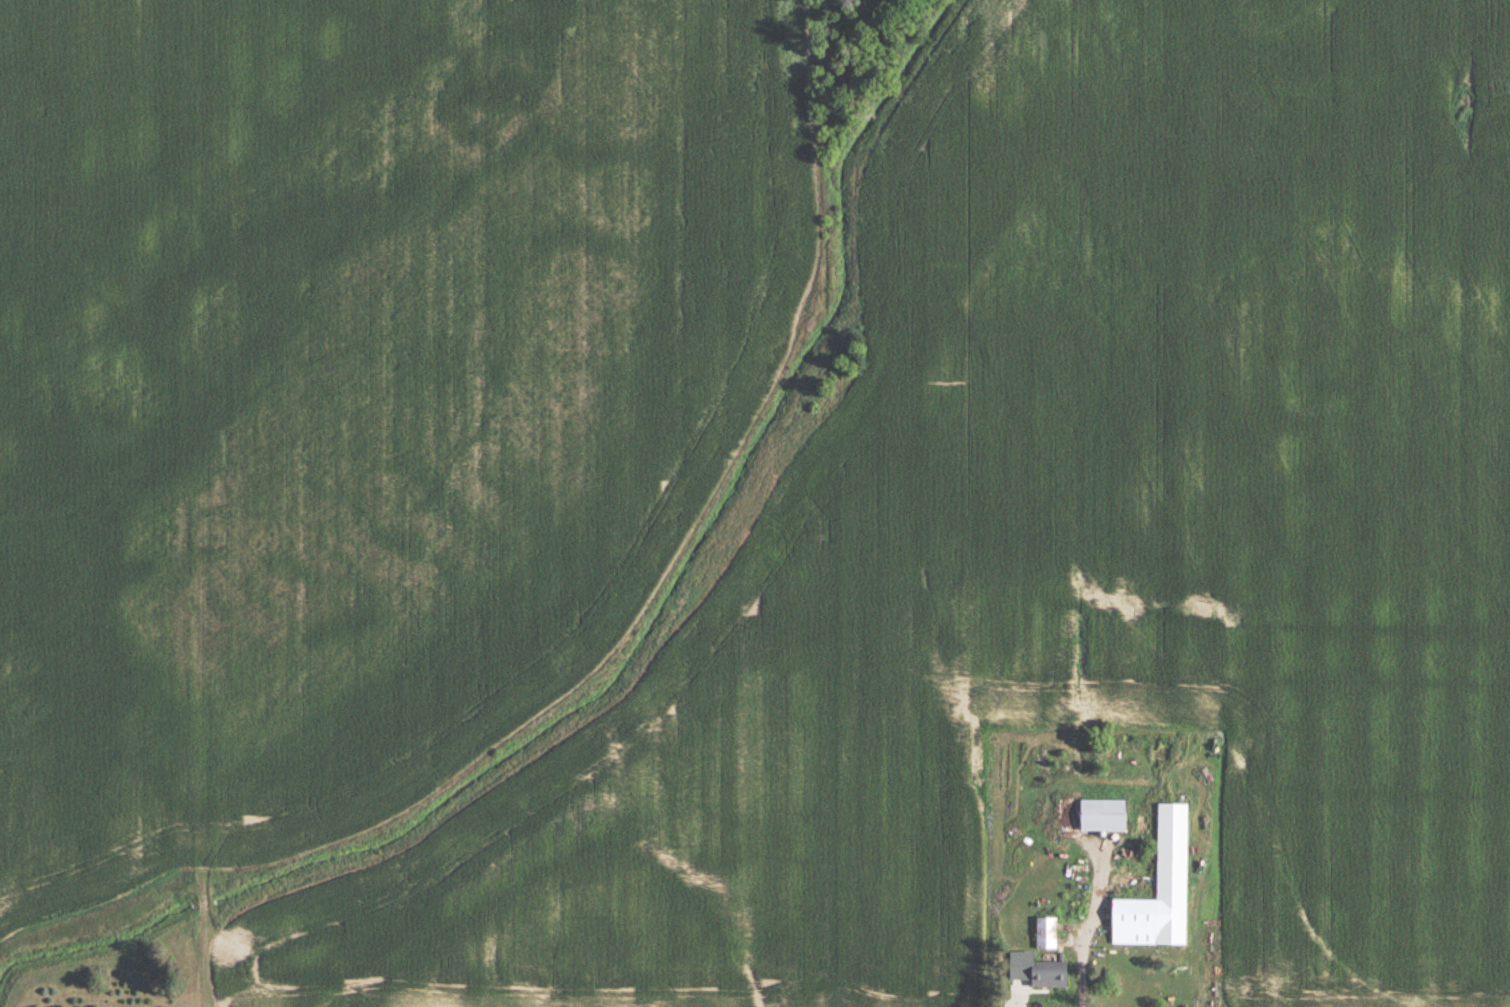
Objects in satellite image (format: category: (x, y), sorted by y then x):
building: (1103, 816)
building: (1160, 890)
building: (1050, 975)

